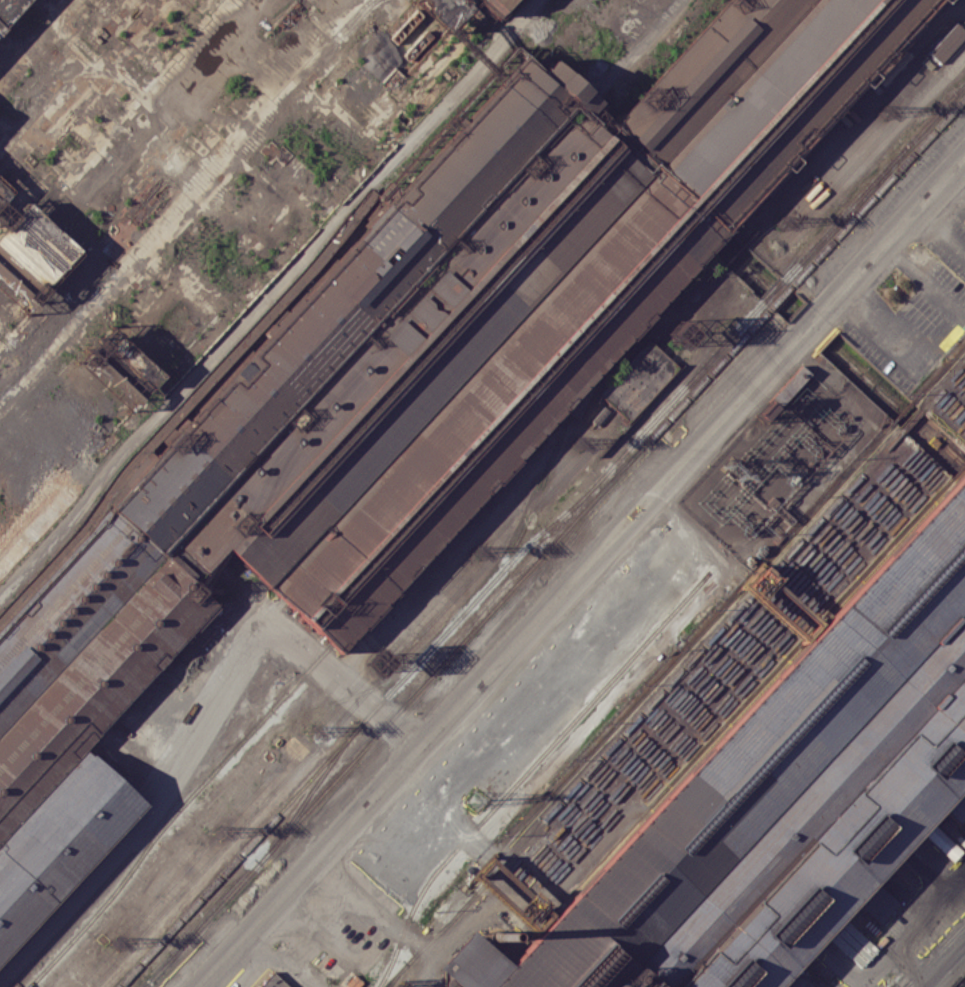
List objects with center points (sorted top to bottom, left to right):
building: (494, 5)
building: (10, 10)
building: (949, 43)
road: (960, 180)
building: (4, 190)
railway: (794, 269)
building: (638, 379)
building: (406, 388)
railway: (555, 542)
road: (575, 571)
railway: (676, 675)
railway: (367, 717)
road: (197, 730)
railway: (527, 770)
railway: (310, 792)
building: (782, 800)
railway: (166, 823)
building: (941, 841)
building: (853, 944)
railway: (941, 951)
railway: (935, 954)
road: (947, 968)
railway: (29, 973)
building: (400, 974)
building: (273, 981)

